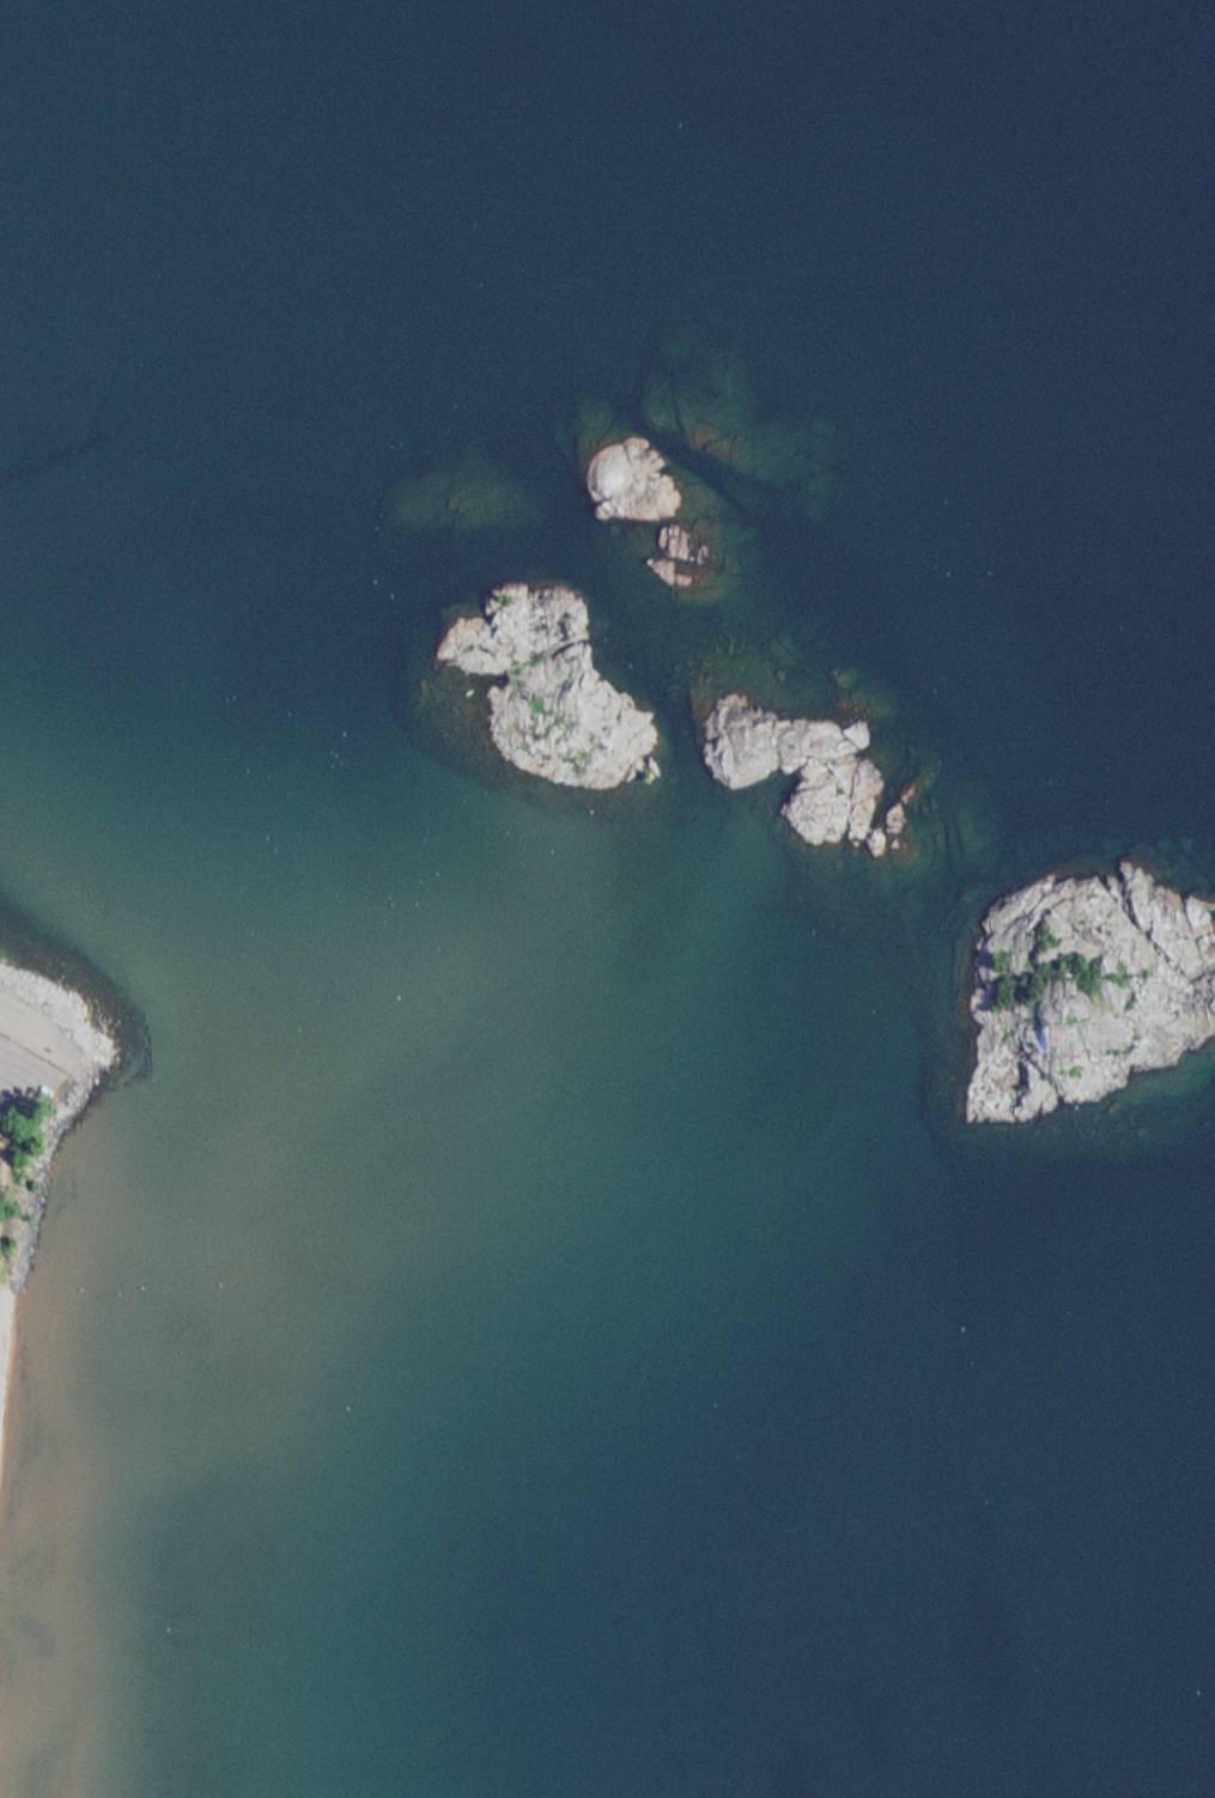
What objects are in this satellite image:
road: (42, 1019)
park: (43, 1271)

